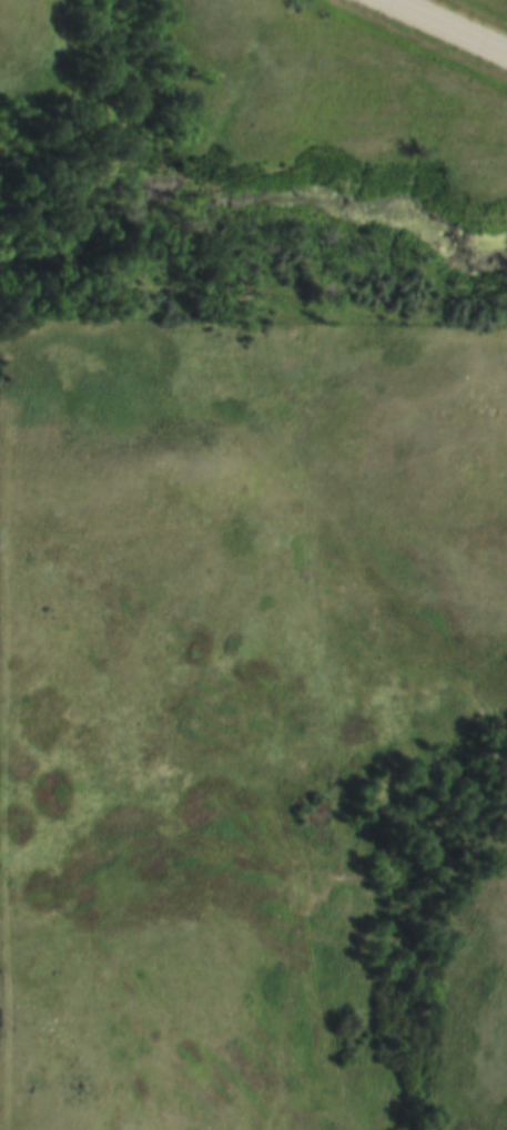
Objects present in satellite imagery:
road: (449, 27)

